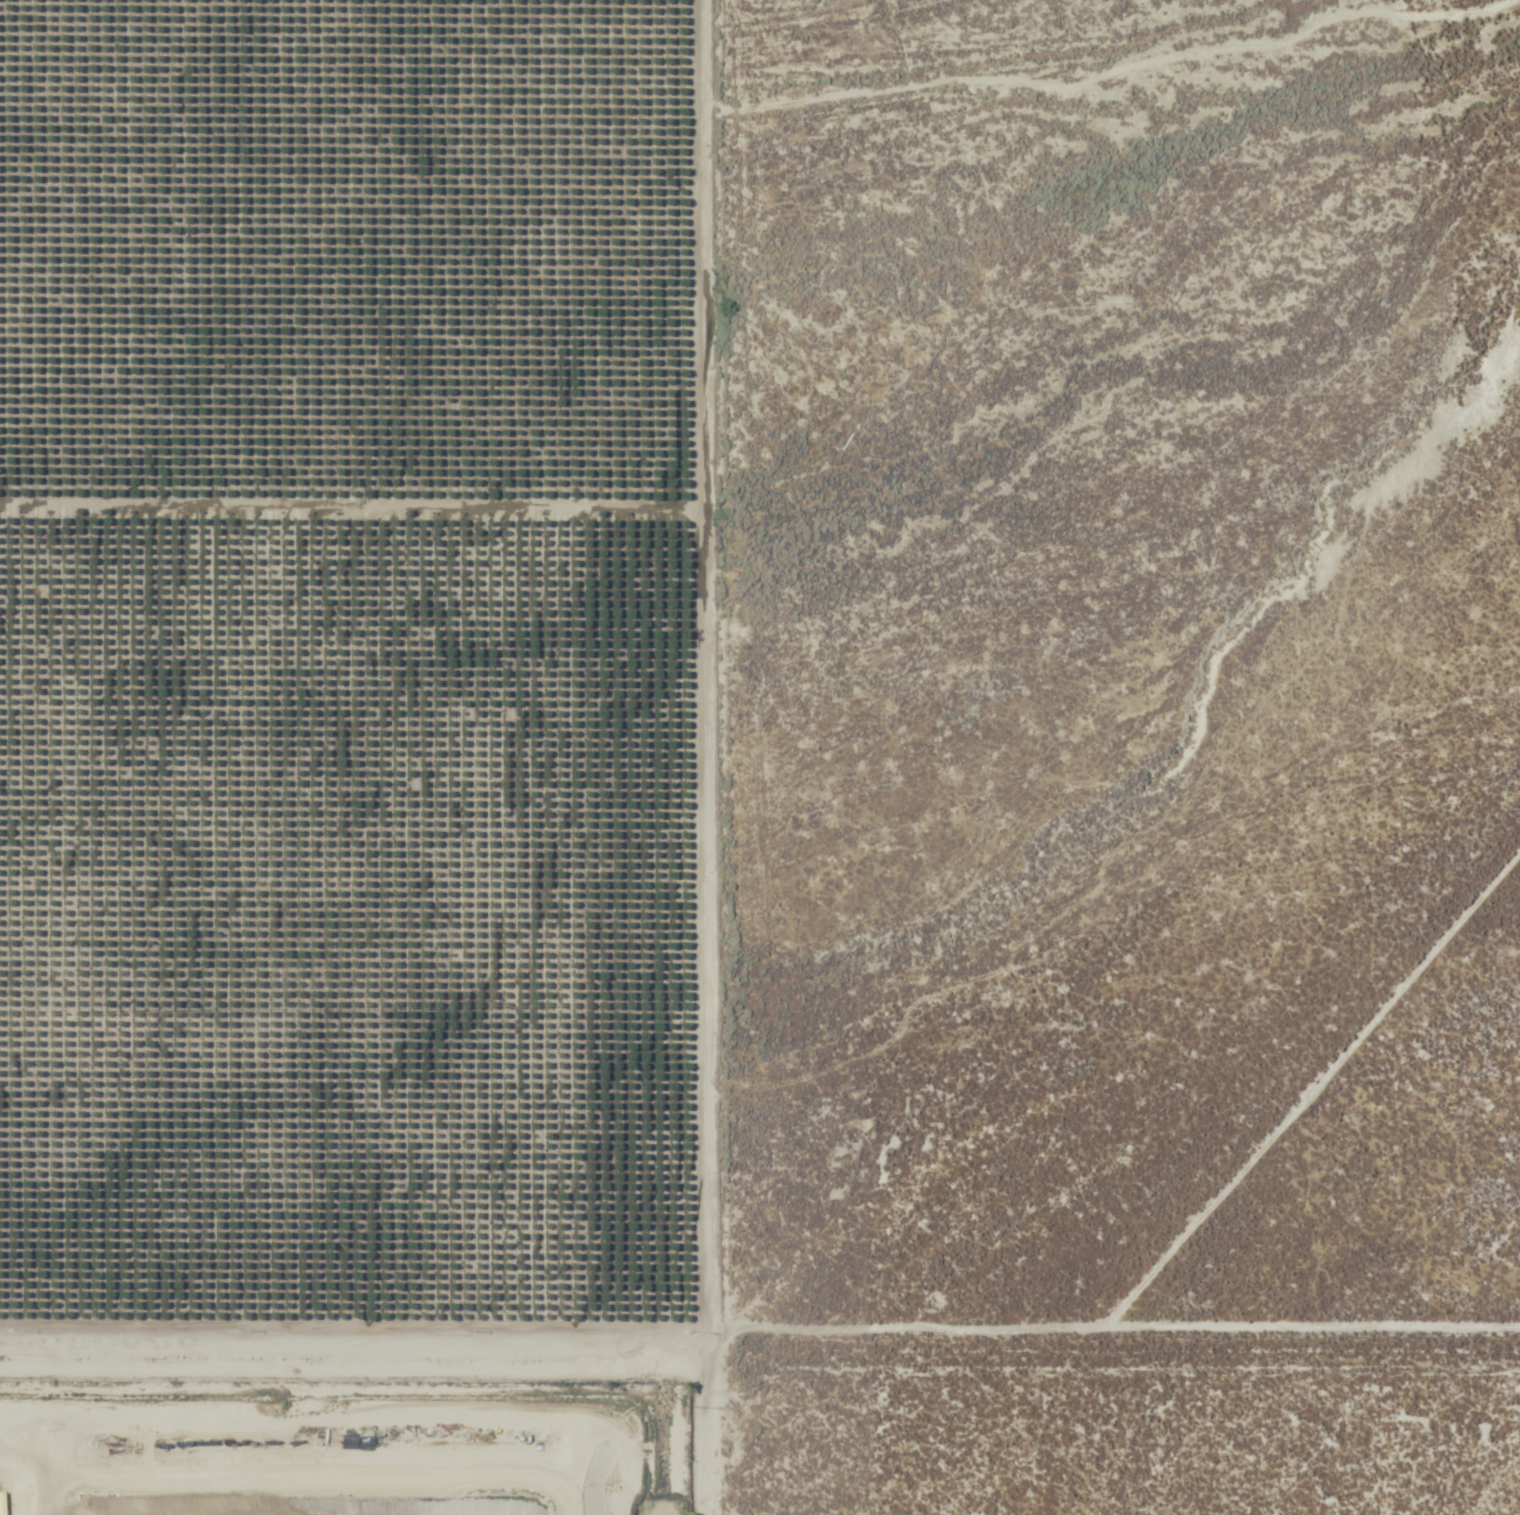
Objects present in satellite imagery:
crop: (346, 655)
road: (759, 1375)
landfill: (345, 1414)
building: (330, 1438)

